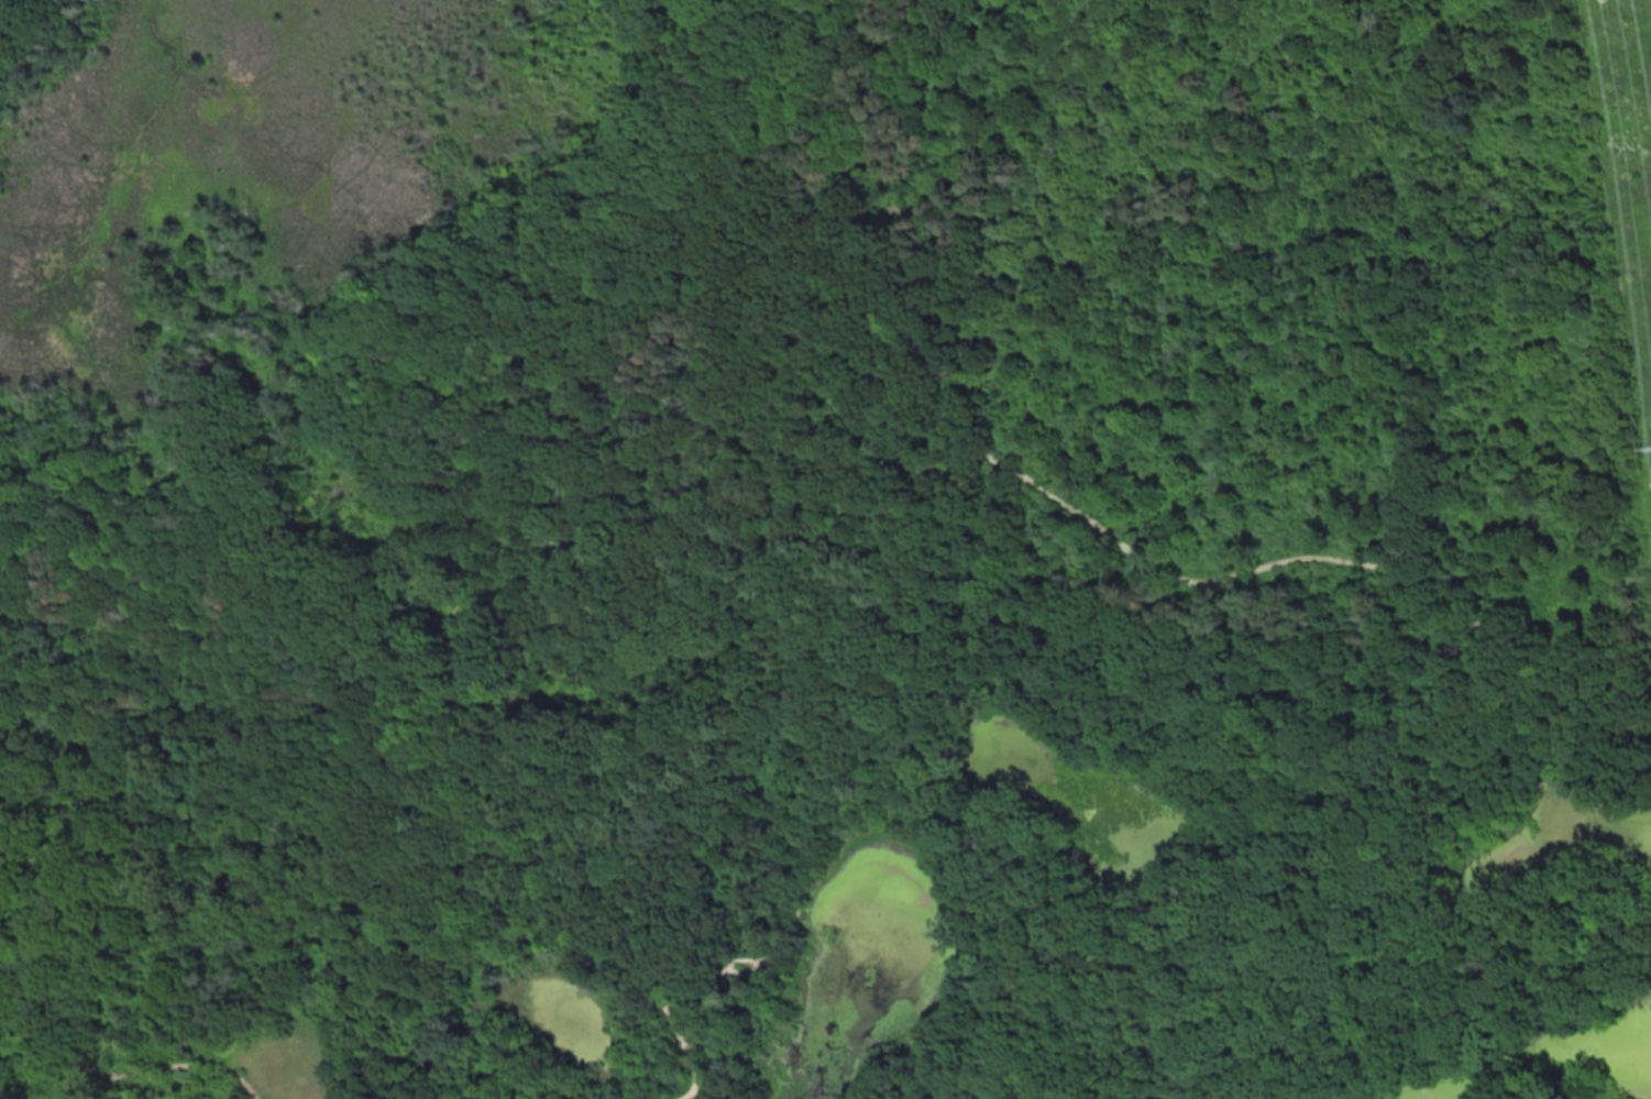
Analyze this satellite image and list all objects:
park: (825, 549)

